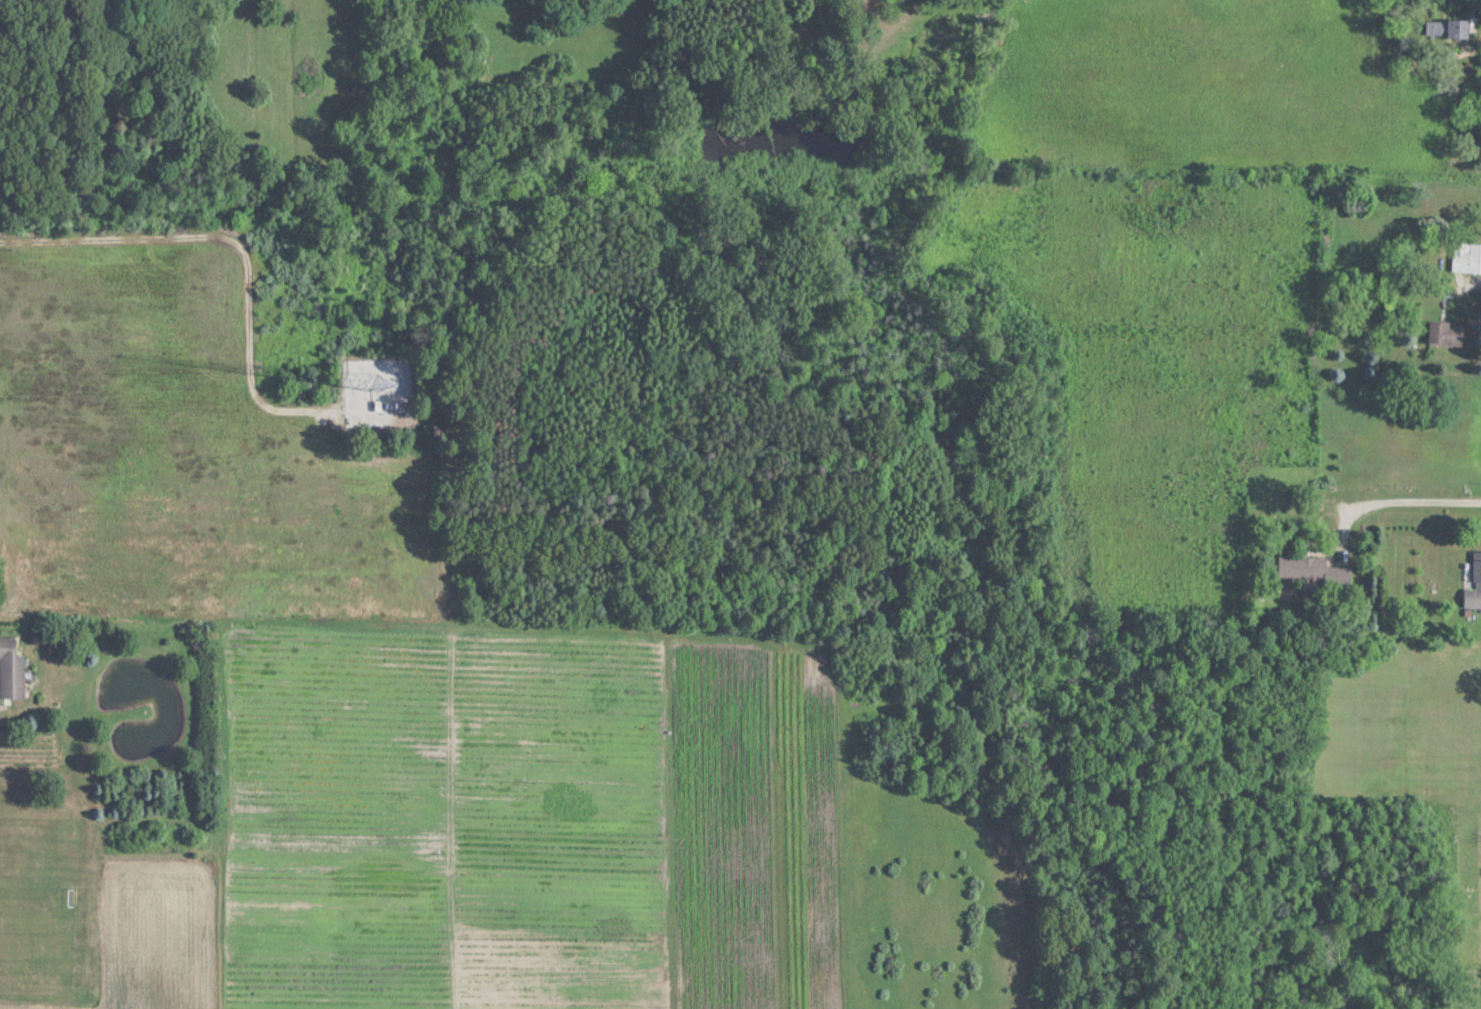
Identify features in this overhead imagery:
building: (1457, 29)
building: (1467, 257)
building: (1446, 333)
road: (1395, 500)
building: (1311, 568)
building: (1475, 584)
building: (11, 669)

